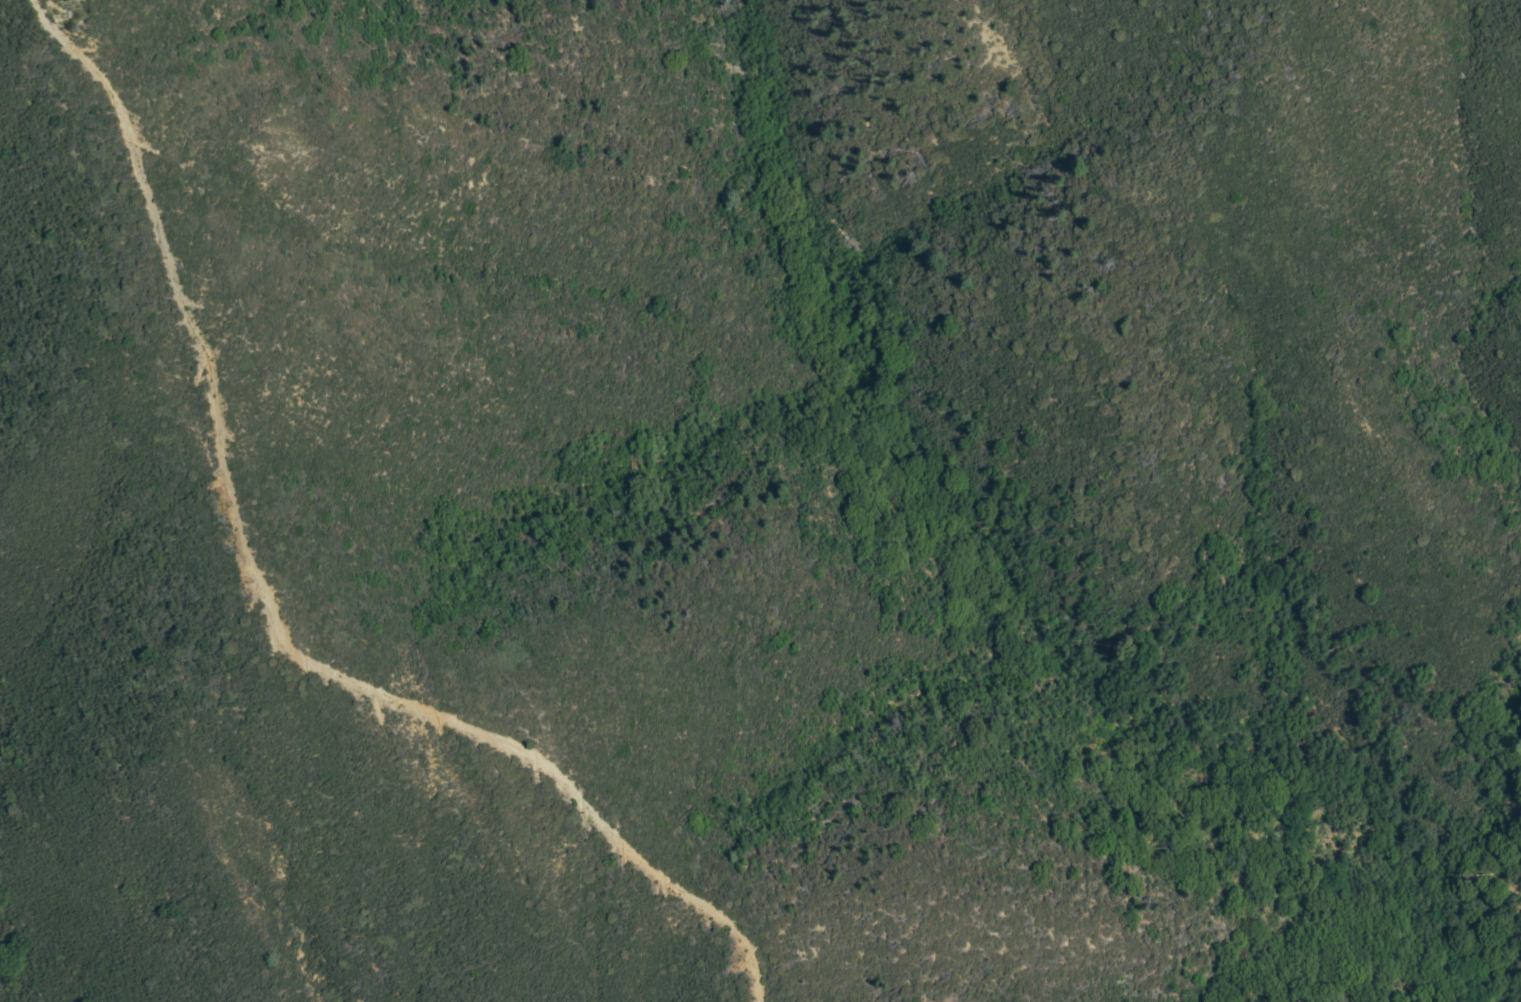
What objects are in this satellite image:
road: (271, 606)

